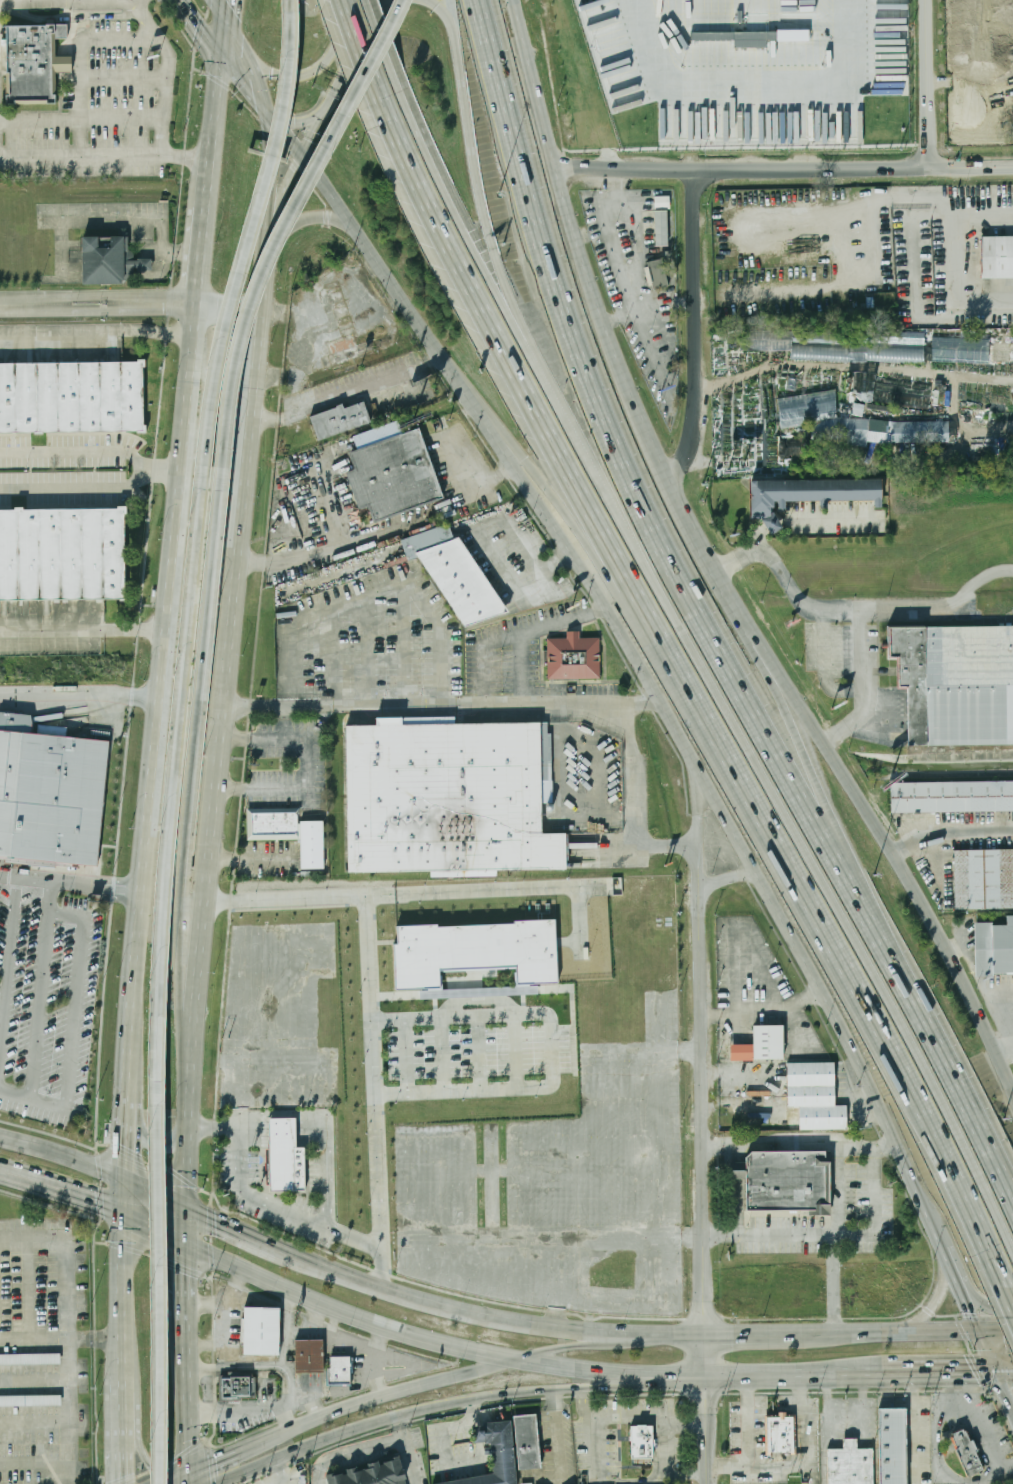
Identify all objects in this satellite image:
road: (139, 3)
road: (220, 8)
road: (226, 8)
road: (444, 13)
building: (1009, 16)
road: (452, 18)
building: (955, 21)
traffic signals: (199, 26)
road: (150, 29)
road: (201, 30)
road: (224, 38)
road: (241, 41)
road: (384, 41)
road: (360, 51)
road: (357, 54)
building: (31, 63)
road: (239, 64)
building: (63, 65)
road: (326, 65)
traffic signals: (273, 74)
road: (930, 83)
road: (246, 87)
road: (263, 90)
road: (165, 107)
road: (301, 121)
road: (214, 130)
road: (317, 132)
traffic signals: (271, 143)
road: (105, 156)
road: (785, 168)
traffic signals: (295, 172)
road: (271, 178)
road: (478, 187)
road: (284, 197)
road: (456, 210)
road: (770, 213)
road: (310, 218)
building: (662, 222)
road: (288, 224)
road: (254, 233)
road: (365, 244)
road: (200, 253)
road: (958, 253)
building: (996, 257)
building: (102, 258)
road: (618, 261)
building: (138, 262)
road: (914, 271)
building: (657, 274)
road: (269, 276)
road: (97, 303)
road: (230, 307)
building: (341, 325)
road: (697, 327)
road: (96, 331)
road: (493, 350)
building: (960, 351)
road: (260, 353)
road: (839, 367)
road: (226, 388)
road: (347, 391)
building: (72, 394)
building: (863, 400)
building: (339, 419)
building: (852, 424)
road: (74, 452)
road: (180, 466)
road: (160, 471)
building: (396, 475)
road: (634, 478)
road: (542, 479)
road: (74, 489)
building: (809, 493)
road: (825, 518)
road: (773, 525)
road: (478, 534)
road: (762, 538)
road: (237, 550)
road: (325, 551)
building: (63, 554)
road: (713, 564)
building: (463, 581)
road: (386, 589)
road: (941, 609)
road: (847, 610)
road: (83, 639)
road: (520, 639)
building: (573, 658)
road: (164, 662)
road: (521, 671)
building: (956, 683)
road: (80, 696)
road: (161, 697)
road: (442, 703)
road: (221, 740)
road: (310, 766)
road: (174, 785)
road: (772, 788)
road: (822, 789)
road: (190, 791)
building: (51, 795)
building: (951, 796)
building: (449, 797)
road: (633, 800)
building: (289, 831)
road: (698, 831)
road: (952, 839)
road: (249, 859)
road: (751, 861)
road: (724, 879)
building: (984, 879)
road: (71, 885)
road: (143, 893)
road: (399, 894)
road: (824, 930)
road: (203, 945)
building: (994, 948)
building: (478, 950)
road: (8, 963)
road: (781, 991)
road: (39, 1005)
road: (75, 1012)
road: (765, 1016)
building: (761, 1044)
road: (550, 1049)
road: (946, 1059)
road: (374, 1092)
building: (815, 1096)
road: (134, 1100)
road: (159, 1128)
road: (801, 1143)
road: (131, 1144)
road: (66, 1154)
traffic signals: (131, 1156)
building: (284, 1157)
road: (187, 1160)
building: (736, 1170)
road: (12, 1176)
building: (786, 1180)
road: (161, 1185)
road: (159, 1191)
road: (875, 1192)
road: (703, 1193)
road: (77, 1198)
road: (130, 1198)
road: (259, 1198)
traffic signals: (97, 1206)
traffic signals: (209, 1216)
road: (187, 1224)
road: (159, 1230)
road: (241, 1230)
road: (789, 1235)
road: (835, 1238)
road: (65, 1258)
traffic signals: (189, 1269)
road: (189, 1280)
road: (127, 1297)
road: (1008, 1297)
road: (986, 1301)
road: (441, 1304)
road: (934, 1306)
traffic signals: (972, 1308)
road: (334, 1322)
road: (381, 1324)
building: (261, 1330)
traffic signals: (1002, 1331)
road: (604, 1333)
road: (660, 1333)
road: (932, 1333)
road: (778, 1334)
road: (340, 1337)
road: (81, 1339)
road: (110, 1339)
road: (584, 1339)
road: (545, 1350)
building: (309, 1356)
building: (29, 1358)
road: (162, 1358)
road: (189, 1360)
road: (265, 1368)
road: (1006, 1370)
building: (338, 1371)
road: (943, 1371)
traffic signals: (971, 1371)
road: (374, 1373)
road: (864, 1373)
road: (609, 1375)
road: (737, 1375)
road: (609, 1382)
building: (238, 1386)
road: (1006, 1388)
road: (332, 1392)
road: (395, 1393)
road: (488, 1395)
road: (554, 1395)
building: (30, 1399)
road: (239, 1409)
road: (633, 1417)
road: (400, 1419)
road: (749, 1421)
road: (982, 1424)
road: (125, 1430)
road: (137, 1434)
building: (780, 1435)
road: (70, 1437)
road: (438, 1442)
building: (526, 1442)
building: (641, 1442)
road: (191, 1444)
building: (891, 1445)
road: (559, 1446)
road: (301, 1447)
road: (664, 1447)
road: (350, 1448)
road: (410, 1453)
building: (967, 1453)
building: (493, 1454)
road: (216, 1458)
traffic signals: (214, 1459)
road: (938, 1459)
traffic signals: (149, 1462)
building: (850, 1464)
road: (800, 1466)
road: (161, 1467)
building: (370, 1474)
road: (686, 1476)
traffic signals: (123, 1479)
road: (600, 1481)

